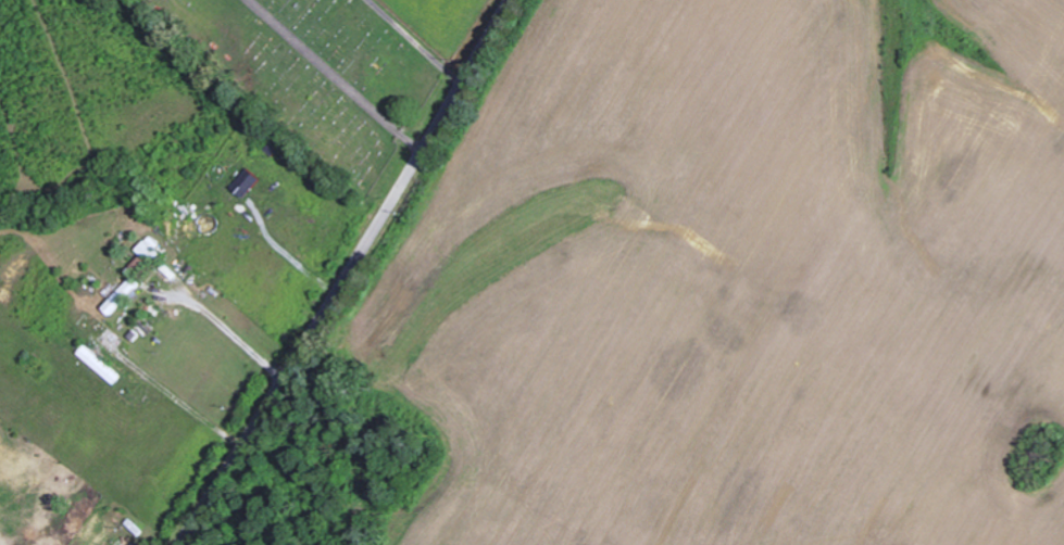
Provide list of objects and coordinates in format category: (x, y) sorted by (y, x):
park: (318, 74)
building: (245, 183)
road: (341, 274)
building: (122, 296)

